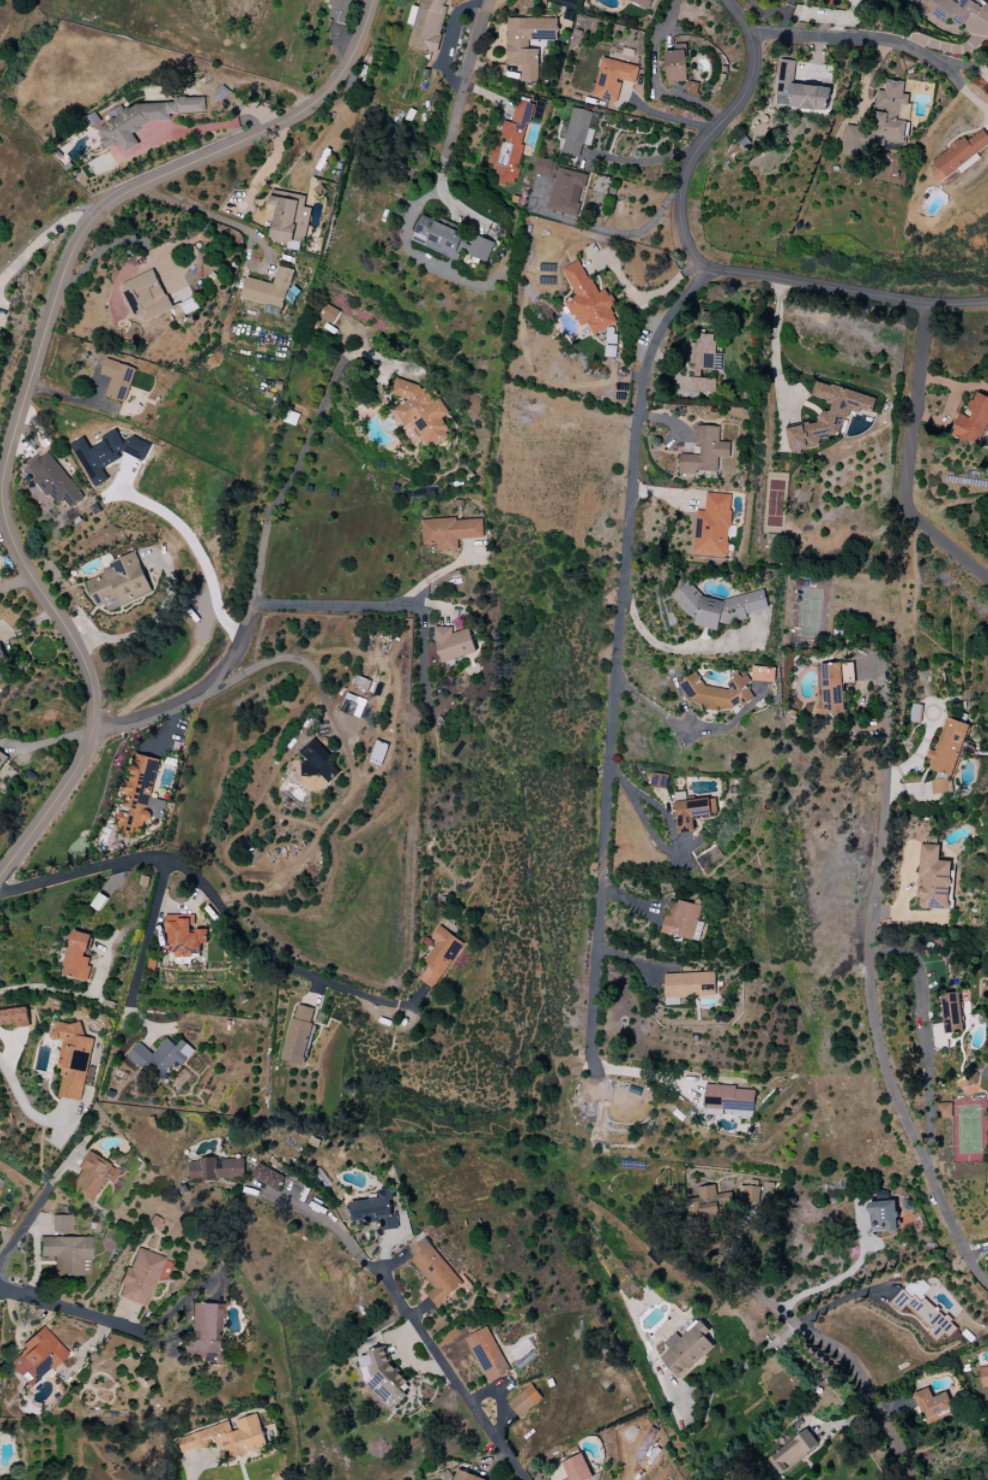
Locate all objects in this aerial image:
building: (642, 2)
building: (563, 3)
building: (339, 10)
building: (957, 14)
building: (427, 24)
road: (880, 41)
building: (527, 43)
road: (944, 45)
building: (676, 64)
road: (450, 78)
building: (613, 78)
road: (654, 78)
building: (799, 91)
building: (889, 113)
road: (668, 117)
building: (143, 119)
building: (579, 131)
building: (854, 141)
building: (510, 144)
building: (959, 153)
road: (643, 164)
road: (261, 173)
road: (442, 174)
building: (562, 186)
building: (290, 216)
road: (235, 224)
road: (609, 230)
road: (40, 238)
building: (451, 240)
road: (405, 251)
road: (697, 260)
building: (268, 289)
building: (146, 296)
building: (588, 300)
building: (328, 313)
road: (775, 350)
building: (704, 362)
building: (117, 379)
road: (31, 382)
building: (420, 412)
building: (828, 416)
road: (669, 419)
building: (972, 421)
building: (704, 451)
building: (106, 454)
road: (905, 459)
road: (288, 479)
building: (54, 480)
building: (713, 526)
building: (450, 531)
road: (196, 549)
building: (120, 583)
road: (18, 584)
road: (333, 603)
building: (718, 606)
road: (152, 620)
road: (28, 626)
building: (453, 643)
road: (233, 649)
road: (678, 650)
building: (1, 653)
road: (421, 658)
road: (278, 659)
road: (177, 672)
building: (763, 674)
building: (834, 685)
building: (717, 692)
road: (613, 704)
building: (353, 705)
road: (656, 710)
road: (886, 720)
building: (948, 747)
building: (378, 752)
building: (2, 758)
building: (316, 767)
building: (939, 786)
building: (139, 796)
building: (692, 812)
road: (661, 847)
building: (933, 879)
road: (204, 889)
building: (681, 919)
building: (184, 935)
road: (144, 955)
building: (78, 956)
building: (440, 956)
building: (690, 984)
road: (54, 988)
building: (951, 1013)
building: (14, 1017)
building: (298, 1034)
road: (925, 1039)
road: (880, 1046)
building: (160, 1057)
building: (72, 1059)
building: (729, 1100)
road: (22, 1105)
building: (944, 1110)
building: (215, 1169)
building: (93, 1175)
building: (267, 1176)
building: (755, 1192)
building: (710, 1202)
building: (376, 1210)
road: (34, 1212)
building: (883, 1216)
building: (60, 1223)
building: (67, 1254)
building: (434, 1271)
building: (140, 1277)
road: (829, 1283)
road: (841, 1300)
road: (405, 1312)
building: (924, 1313)
road: (115, 1321)
building: (687, 1349)
building: (487, 1355)
building: (36, 1357)
road: (731, 1365)
road: (853, 1366)
building: (383, 1376)
building: (984, 1377)
road: (669, 1380)
road: (499, 1397)
building: (524, 1400)
building: (227, 1438)
building: (793, 1451)
road: (197, 1466)
building: (577, 1468)
building: (465, 1476)

